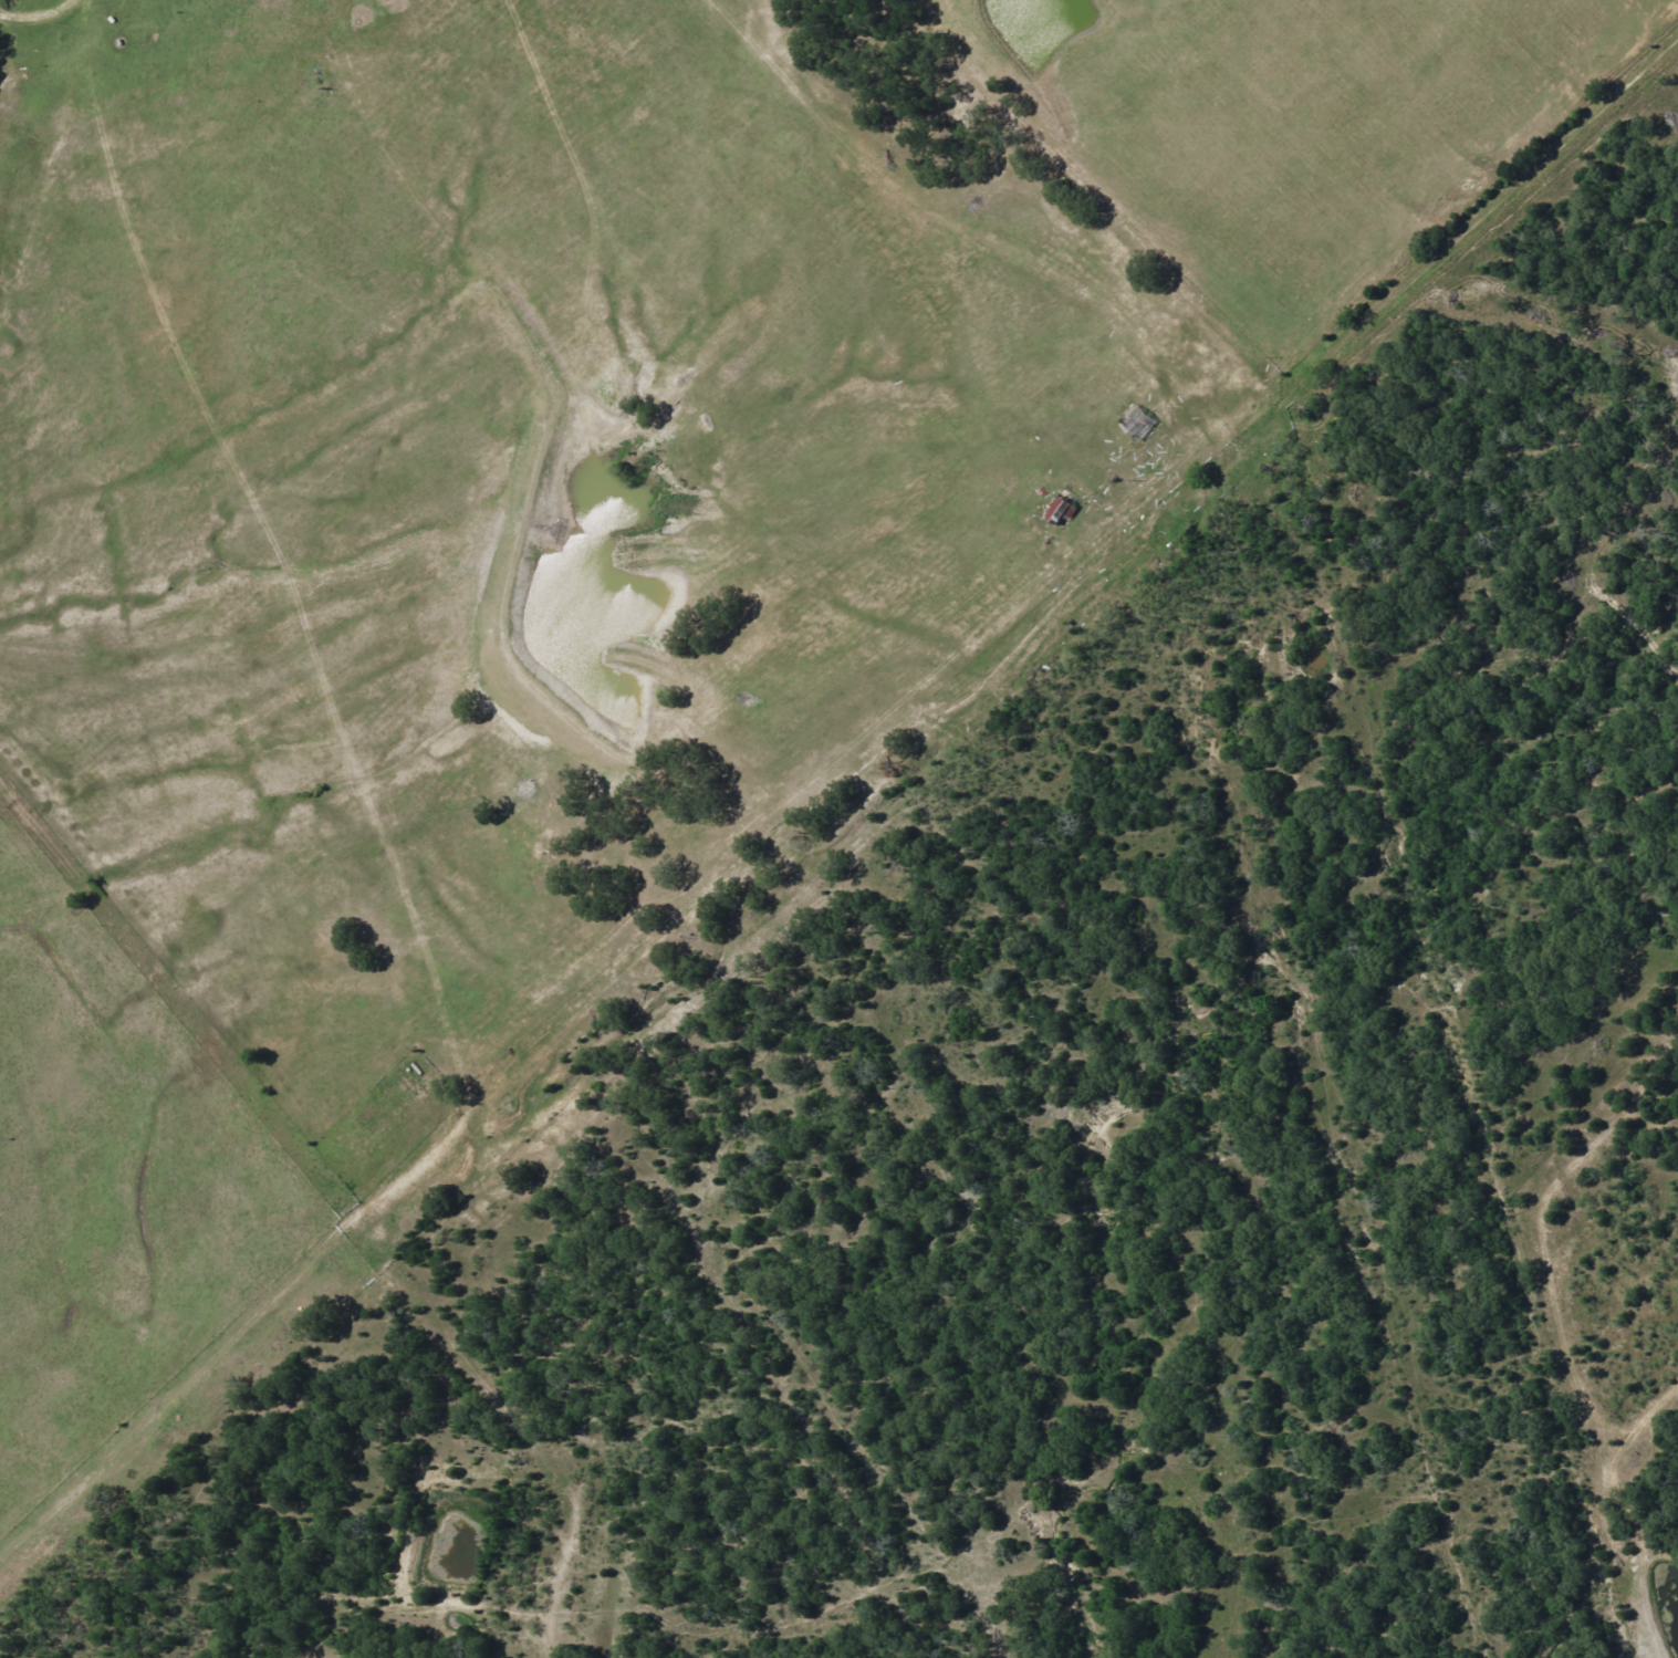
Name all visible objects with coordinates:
road: (721, 692)

